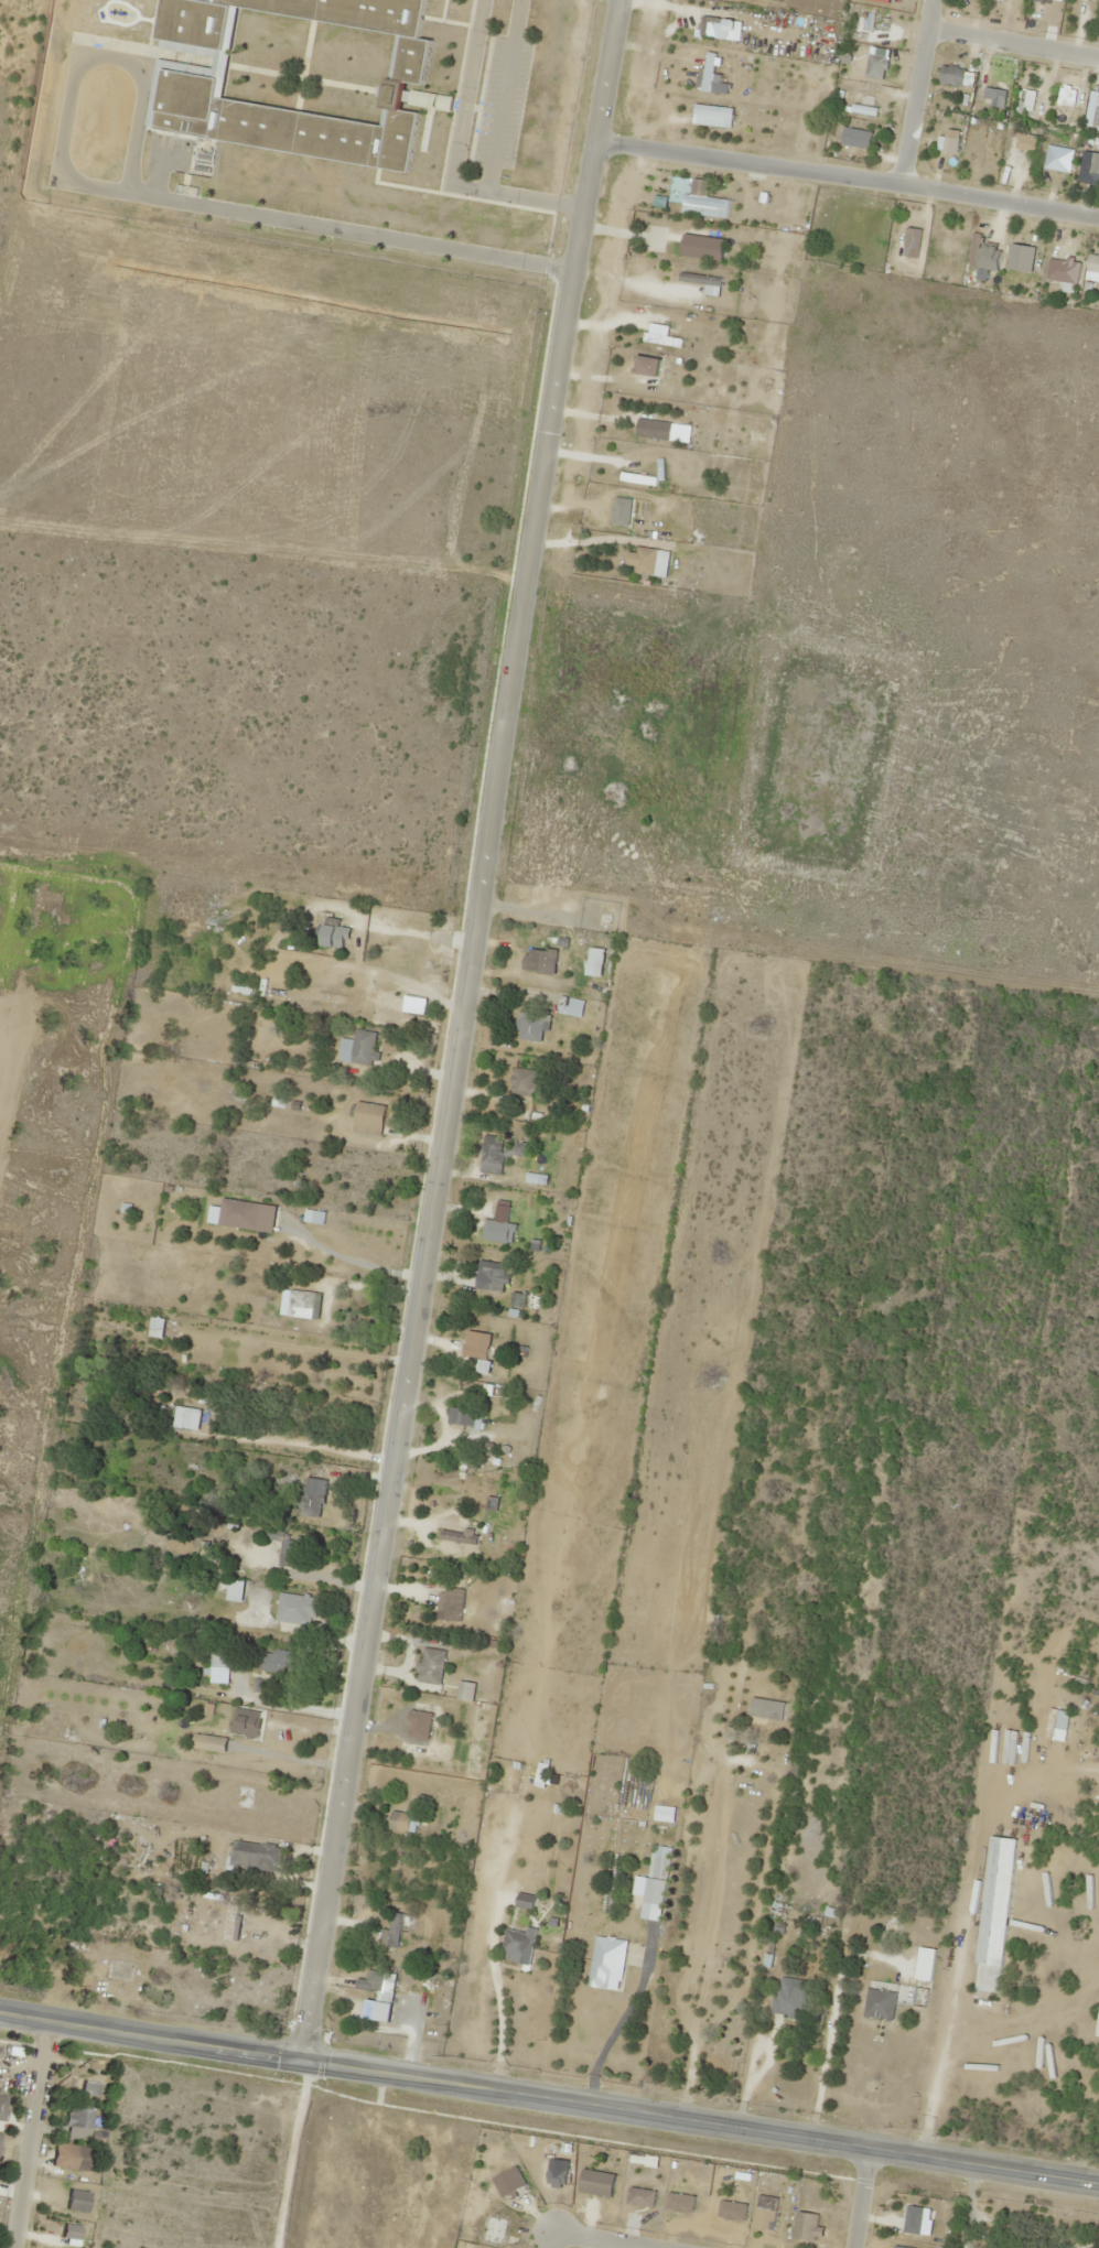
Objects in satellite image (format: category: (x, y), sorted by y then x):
building: (720, 26)
road: (1013, 40)
building: (708, 75)
building: (297, 76)
road: (916, 90)
building: (708, 111)
road: (850, 174)
building: (683, 203)
building: (676, 244)
building: (649, 366)
building: (655, 430)
building: (334, 933)
building: (540, 960)
building: (571, 1006)
building: (532, 1026)
road: (462, 1030)
building: (360, 1048)
building: (525, 1082)
building: (369, 1118)
building: (520, 1149)
building: (494, 1150)
building: (534, 1172)
building: (503, 1209)
river: (1033, 1222)
building: (494, 1276)
building: (301, 1304)
building: (157, 1327)
building: (481, 1354)
building: (465, 1417)
building: (186, 1418)
building: (312, 1503)
building: (460, 1537)
building: (287, 1548)
building: (454, 1604)
building: (298, 1609)
building: (282, 1663)
building: (433, 1666)
building: (767, 1709)
building: (247, 1722)
building: (1089, 1755)
building: (395, 1815)
building: (257, 1856)
building: (658, 1880)
building: (526, 1902)
building: (995, 1915)
building: (396, 1930)
building: (519, 1947)
building: (608, 1964)
building: (926, 1965)
building: (379, 1980)
building: (790, 1998)
building: (881, 2004)
building: (383, 2012)
building: (0, 2071)
building: (90, 2088)
road: (549, 2098)
building: (2, 2106)
building: (78, 2127)
road: (32, 2133)
building: (75, 2160)
building: (513, 2177)
building: (597, 2183)
road: (860, 2197)
building: (642, 2198)
building: (77, 2200)
building: (808, 2228)
road: (553, 2238)
road: (612, 2238)
building: (58, 2242)

